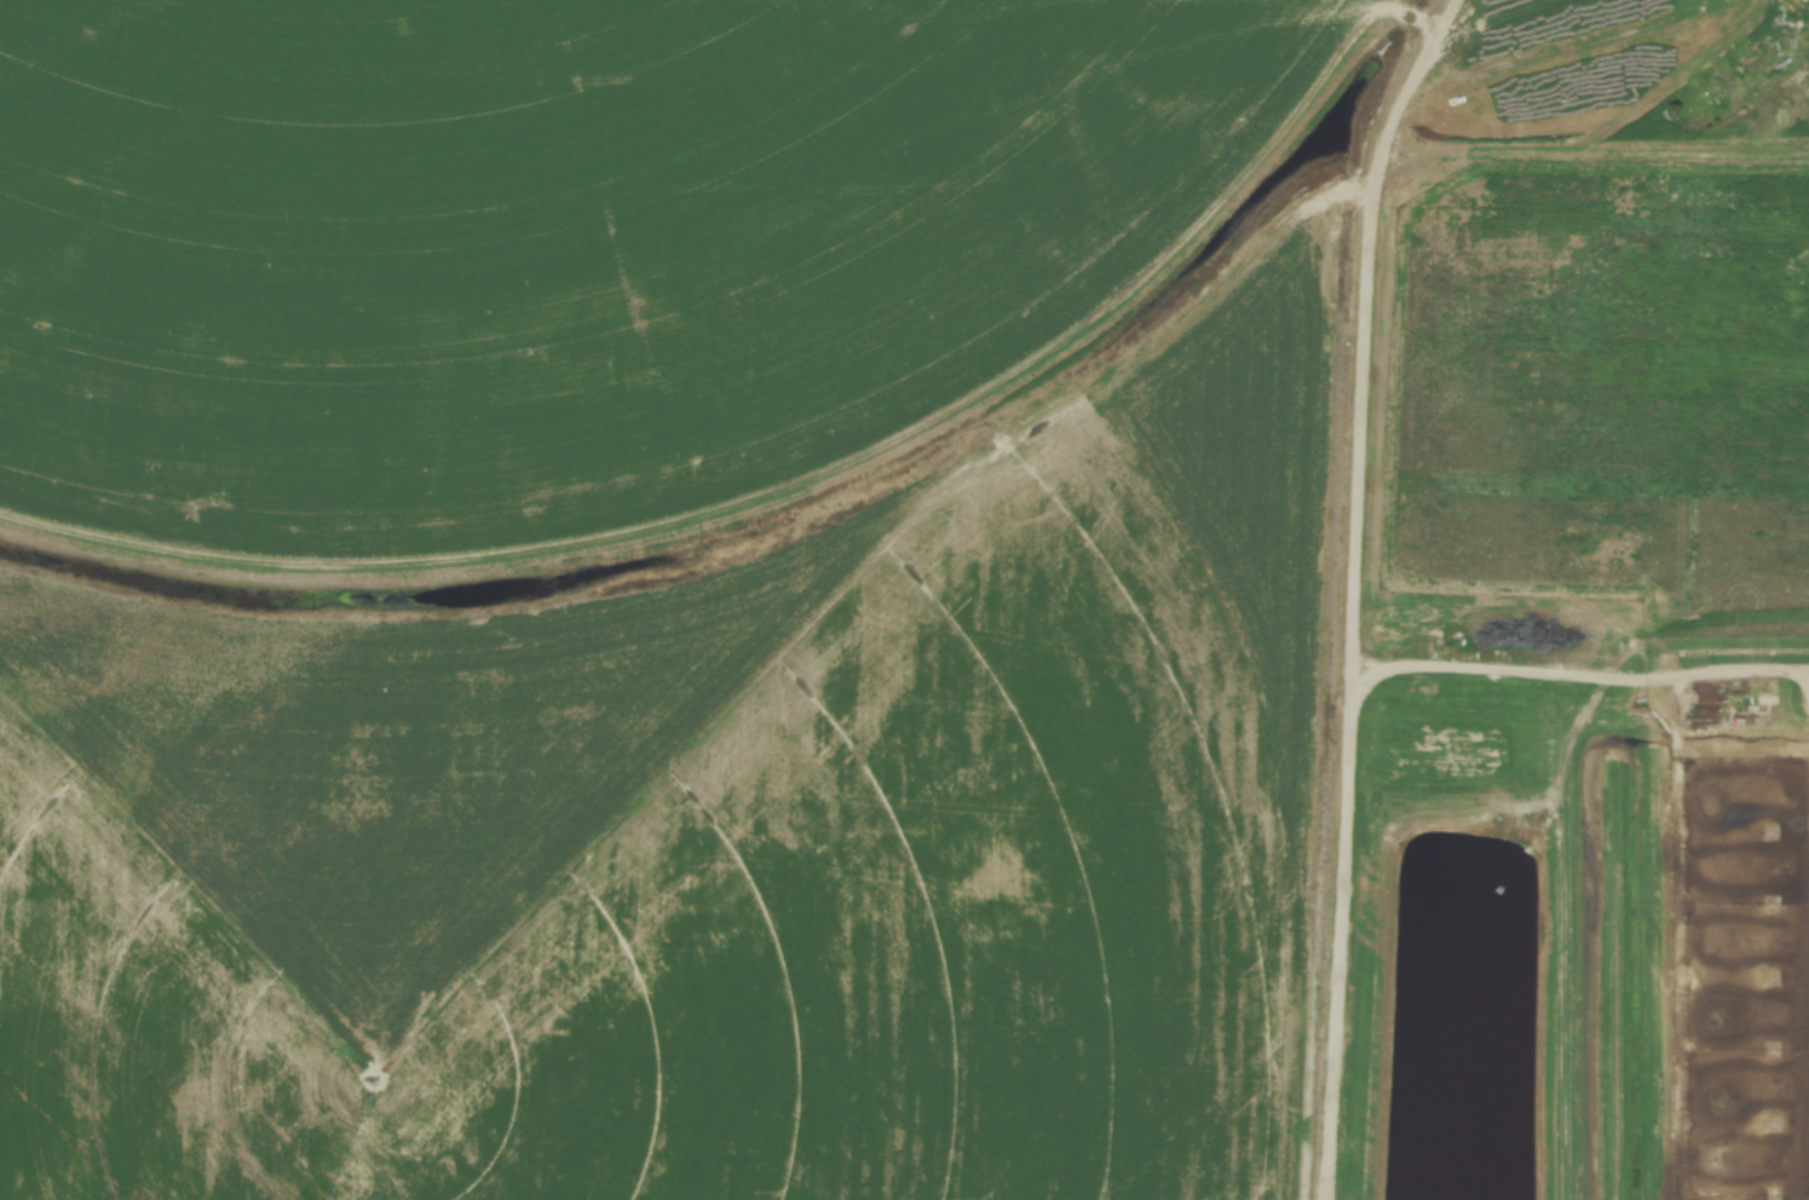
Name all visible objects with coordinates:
building: (1704, 720)

